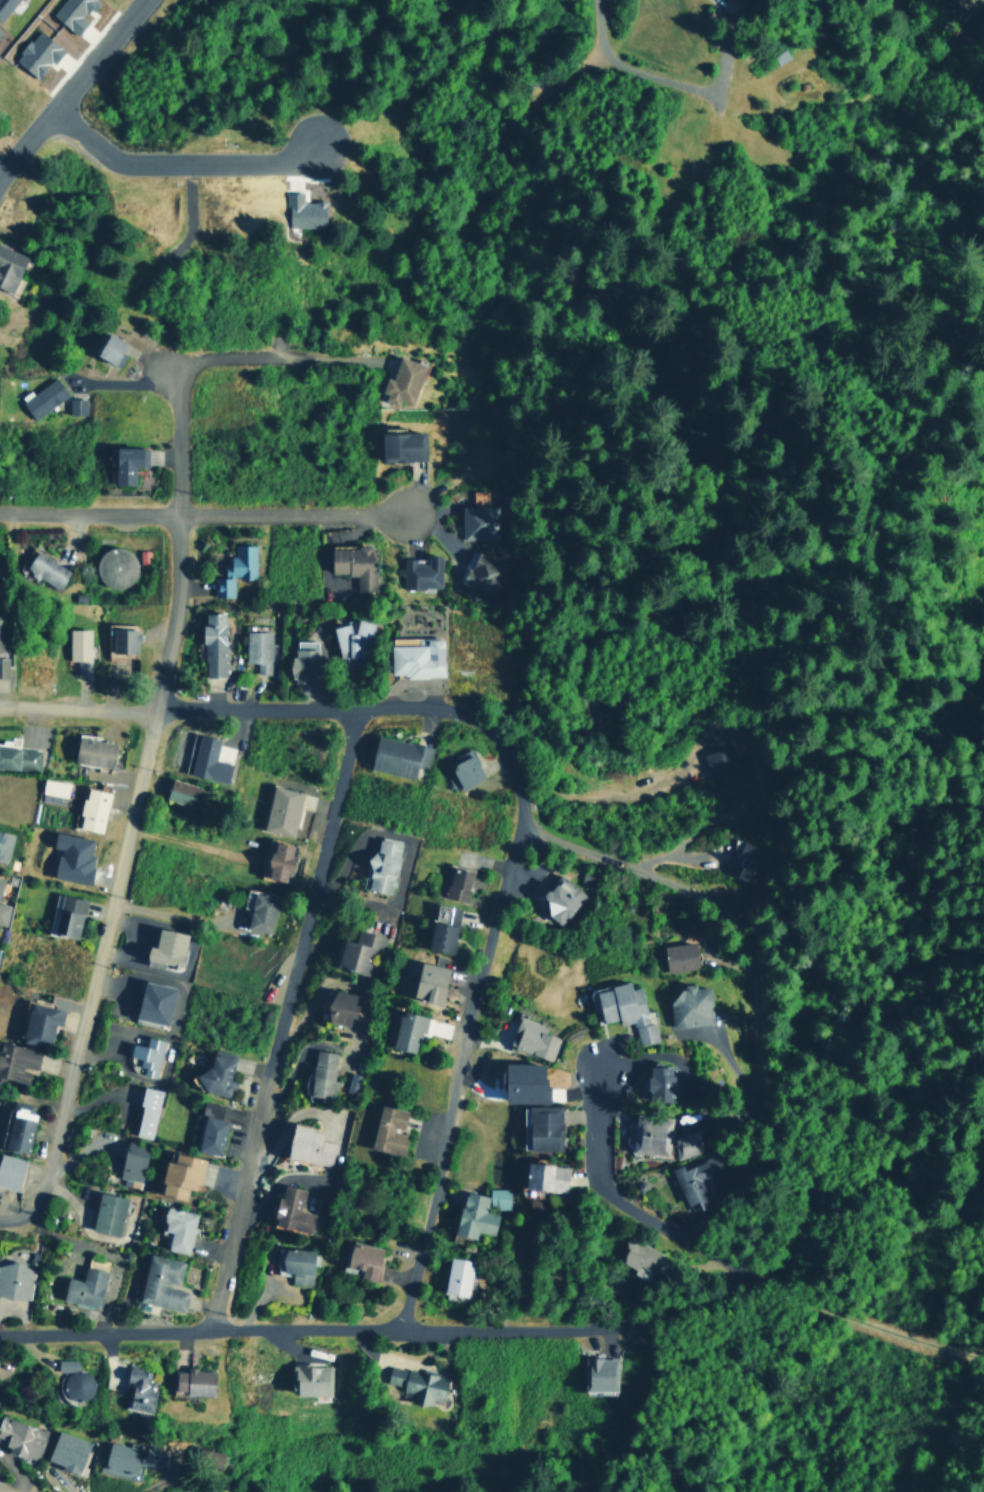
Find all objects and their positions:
building: (739, 0)
building: (4, 6)
building: (71, 12)
building: (36, 53)
road: (638, 63)
road: (70, 87)
road: (180, 160)
building: (302, 210)
building: (8, 266)
building: (109, 348)
building: (401, 380)
building: (42, 397)
building: (75, 404)
road: (175, 435)
building: (400, 445)
building: (126, 462)
road: (88, 511)
road: (292, 512)
building: (478, 517)
building: (352, 565)
building: (44, 567)
building: (114, 567)
building: (234, 568)
building: (420, 572)
building: (480, 573)
road: (165, 611)
building: (350, 639)
building: (121, 640)
building: (212, 644)
building: (78, 649)
building: (257, 649)
building: (415, 658)
building: (303, 659)
building: (3, 665)
road: (256, 710)
building: (92, 751)
building: (398, 755)
building: (18, 757)
building: (205, 759)
building: (718, 763)
building: (464, 768)
road: (519, 784)
building: (52, 790)
building: (181, 792)
building: (90, 809)
building: (281, 810)
building: (4, 844)
building: (71, 856)
building: (745, 857)
building: (274, 859)
building: (381, 864)
building: (0, 878)
building: (456, 883)
building: (560, 898)
building: (259, 911)
building: (2, 912)
building: (64, 915)
building: (442, 927)
building: (164, 947)
building: (359, 951)
building: (678, 956)
road: (90, 976)
building: (428, 981)
building: (153, 1001)
building: (688, 1005)
building: (341, 1007)
building: (625, 1009)
road: (284, 1017)
building: (37, 1022)
building: (406, 1031)
building: (531, 1038)
building: (146, 1054)
building: (16, 1062)
building: (320, 1072)
building: (216, 1073)
road: (457, 1080)
building: (521, 1081)
building: (351, 1082)
building: (658, 1083)
building: (145, 1112)
building: (540, 1127)
building: (210, 1128)
building: (18, 1130)
building: (387, 1130)
building: (647, 1134)
building: (685, 1143)
building: (307, 1144)
road: (898, 1152)
building: (131, 1164)
road: (808, 1165)
building: (10, 1170)
building: (178, 1175)
building: (544, 1176)
building: (697, 1180)
building: (497, 1197)
road: (632, 1206)
building: (290, 1210)
building: (106, 1213)
building: (473, 1215)
building: (176, 1228)
building: (638, 1258)
building: (363, 1260)
building: (294, 1263)
building: (457, 1275)
building: (15, 1280)
building: (161, 1283)
building: (83, 1287)
road: (874, 1298)
road: (202, 1326)
building: (598, 1373)
building: (74, 1379)
building: (309, 1380)
building: (192, 1381)
building: (416, 1383)
building: (138, 1387)
building: (41, 1443)
building: (132, 1456)
building: (207, 1457)
road: (8, 1486)

